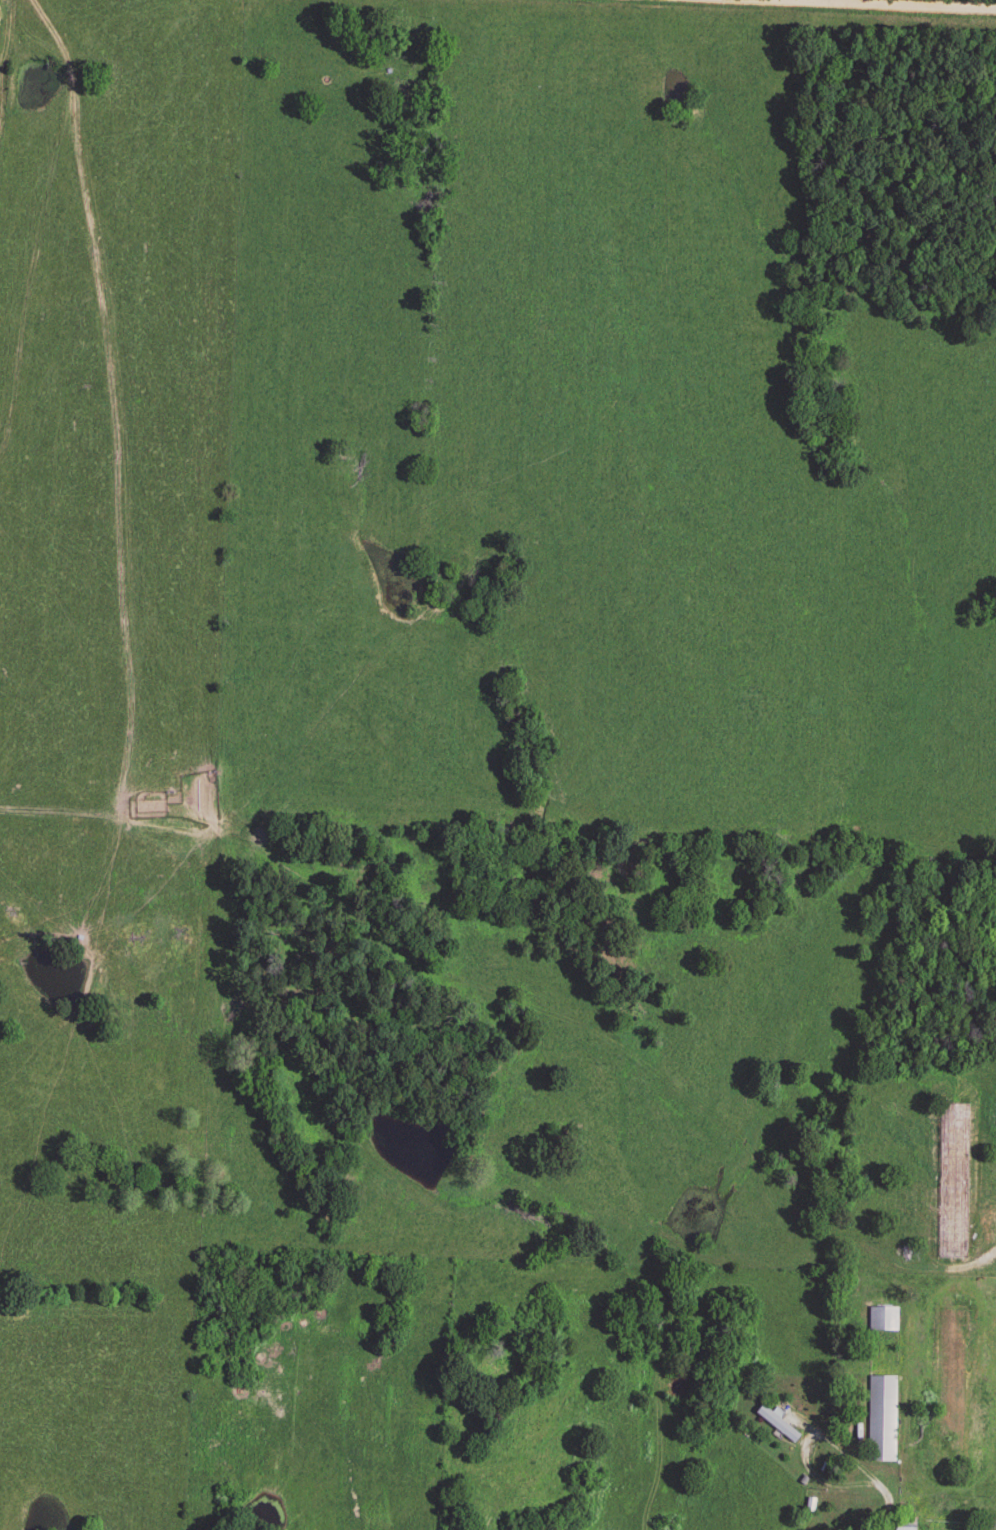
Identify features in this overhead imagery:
road: (843, 2)
building: (952, 1184)
building: (882, 1320)
building: (881, 1420)
building: (776, 1425)
road: (804, 1447)
road: (889, 1501)
building: (902, 1529)

